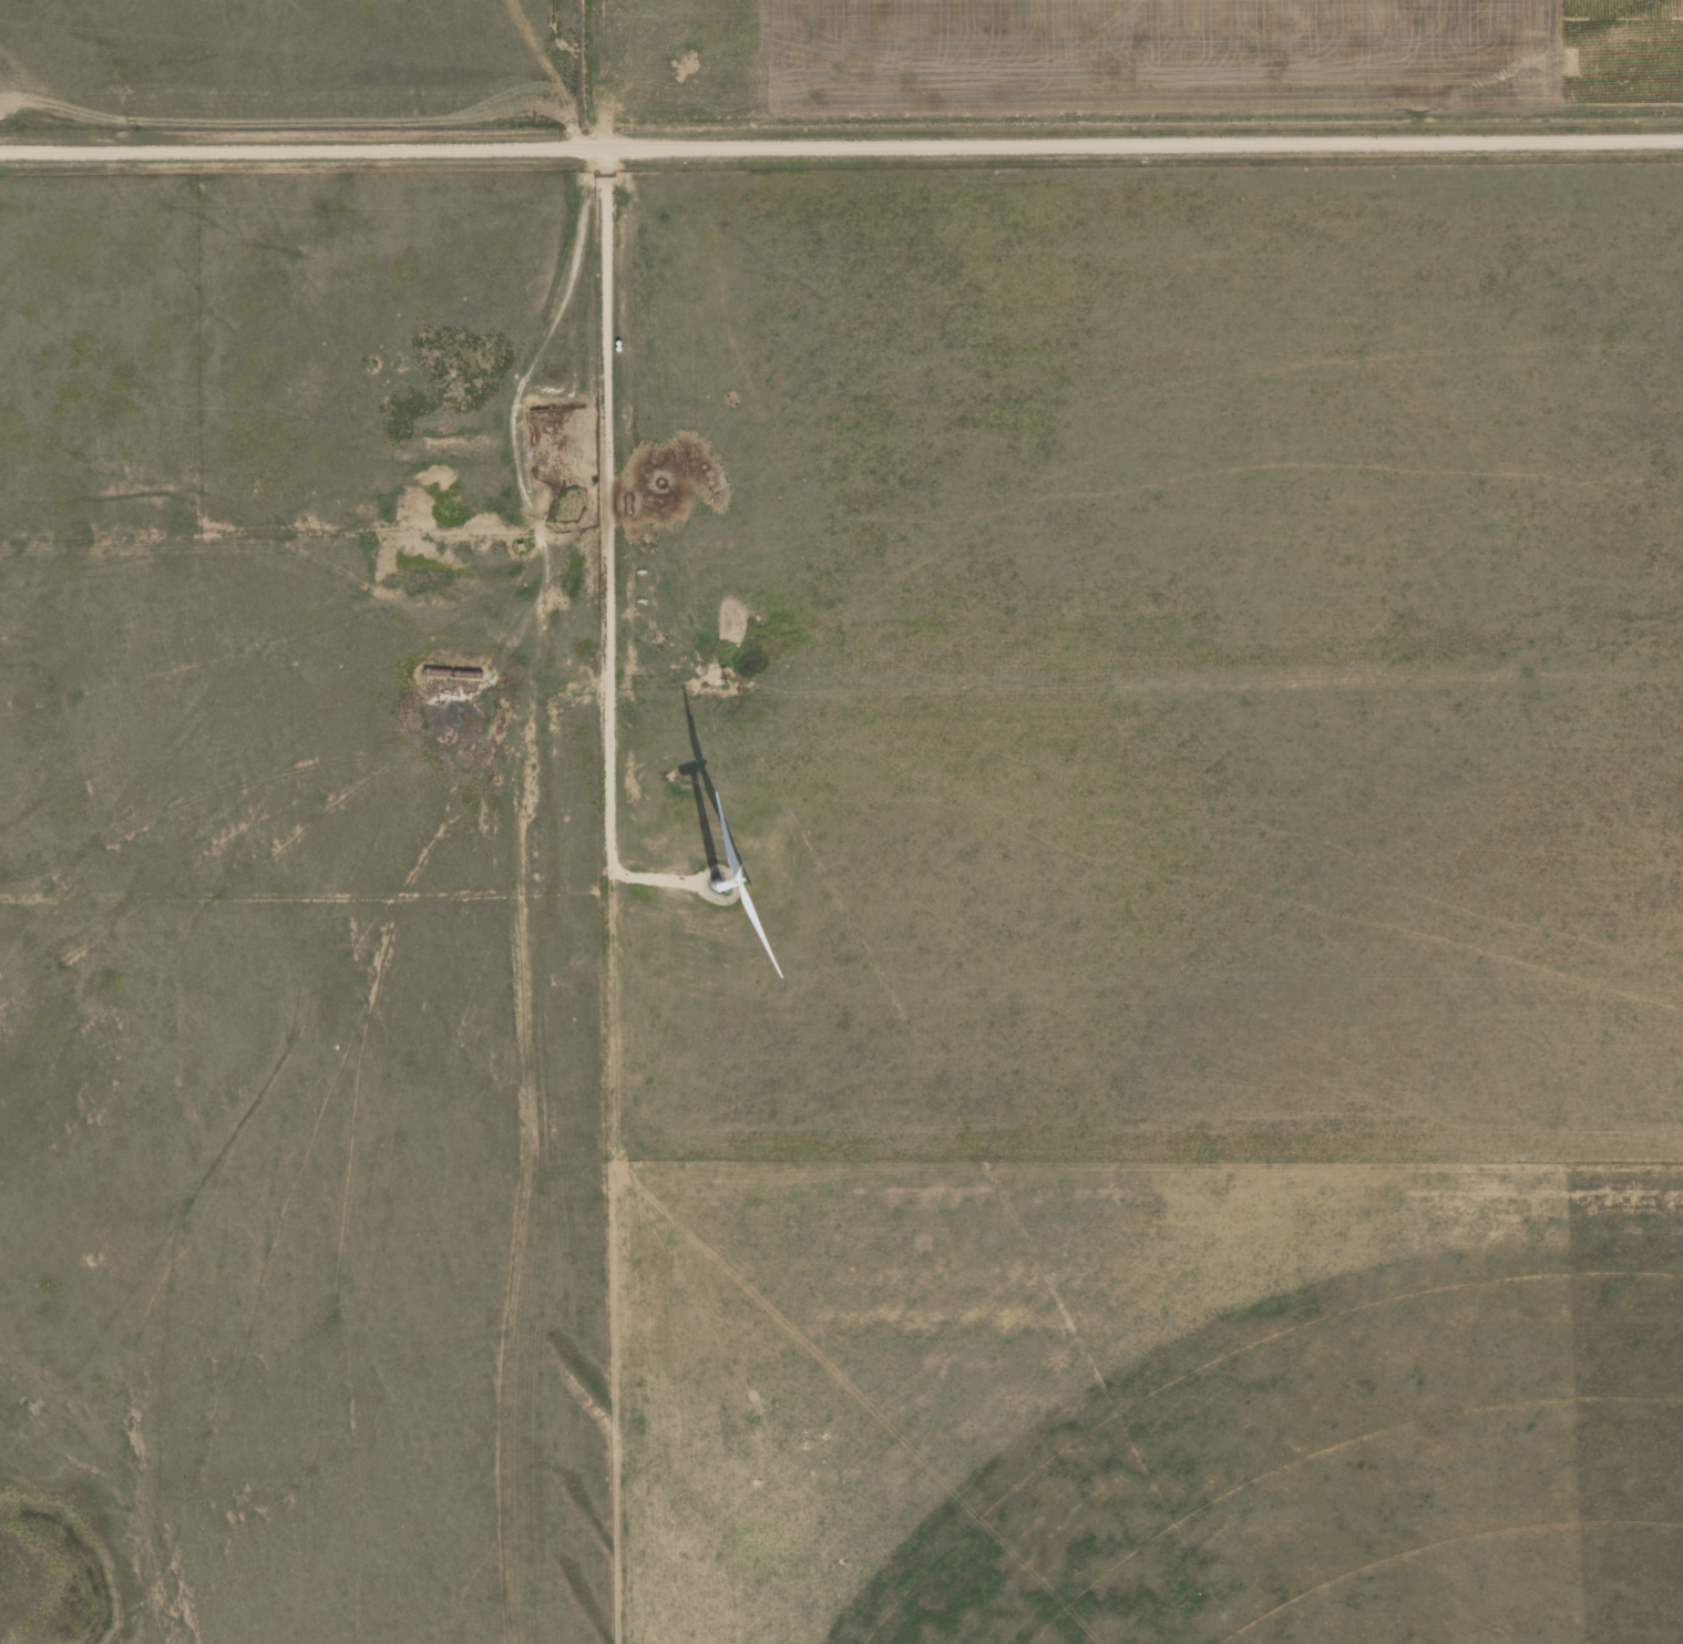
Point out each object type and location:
road: (841, 145)
wind turbine: (712, 885)

